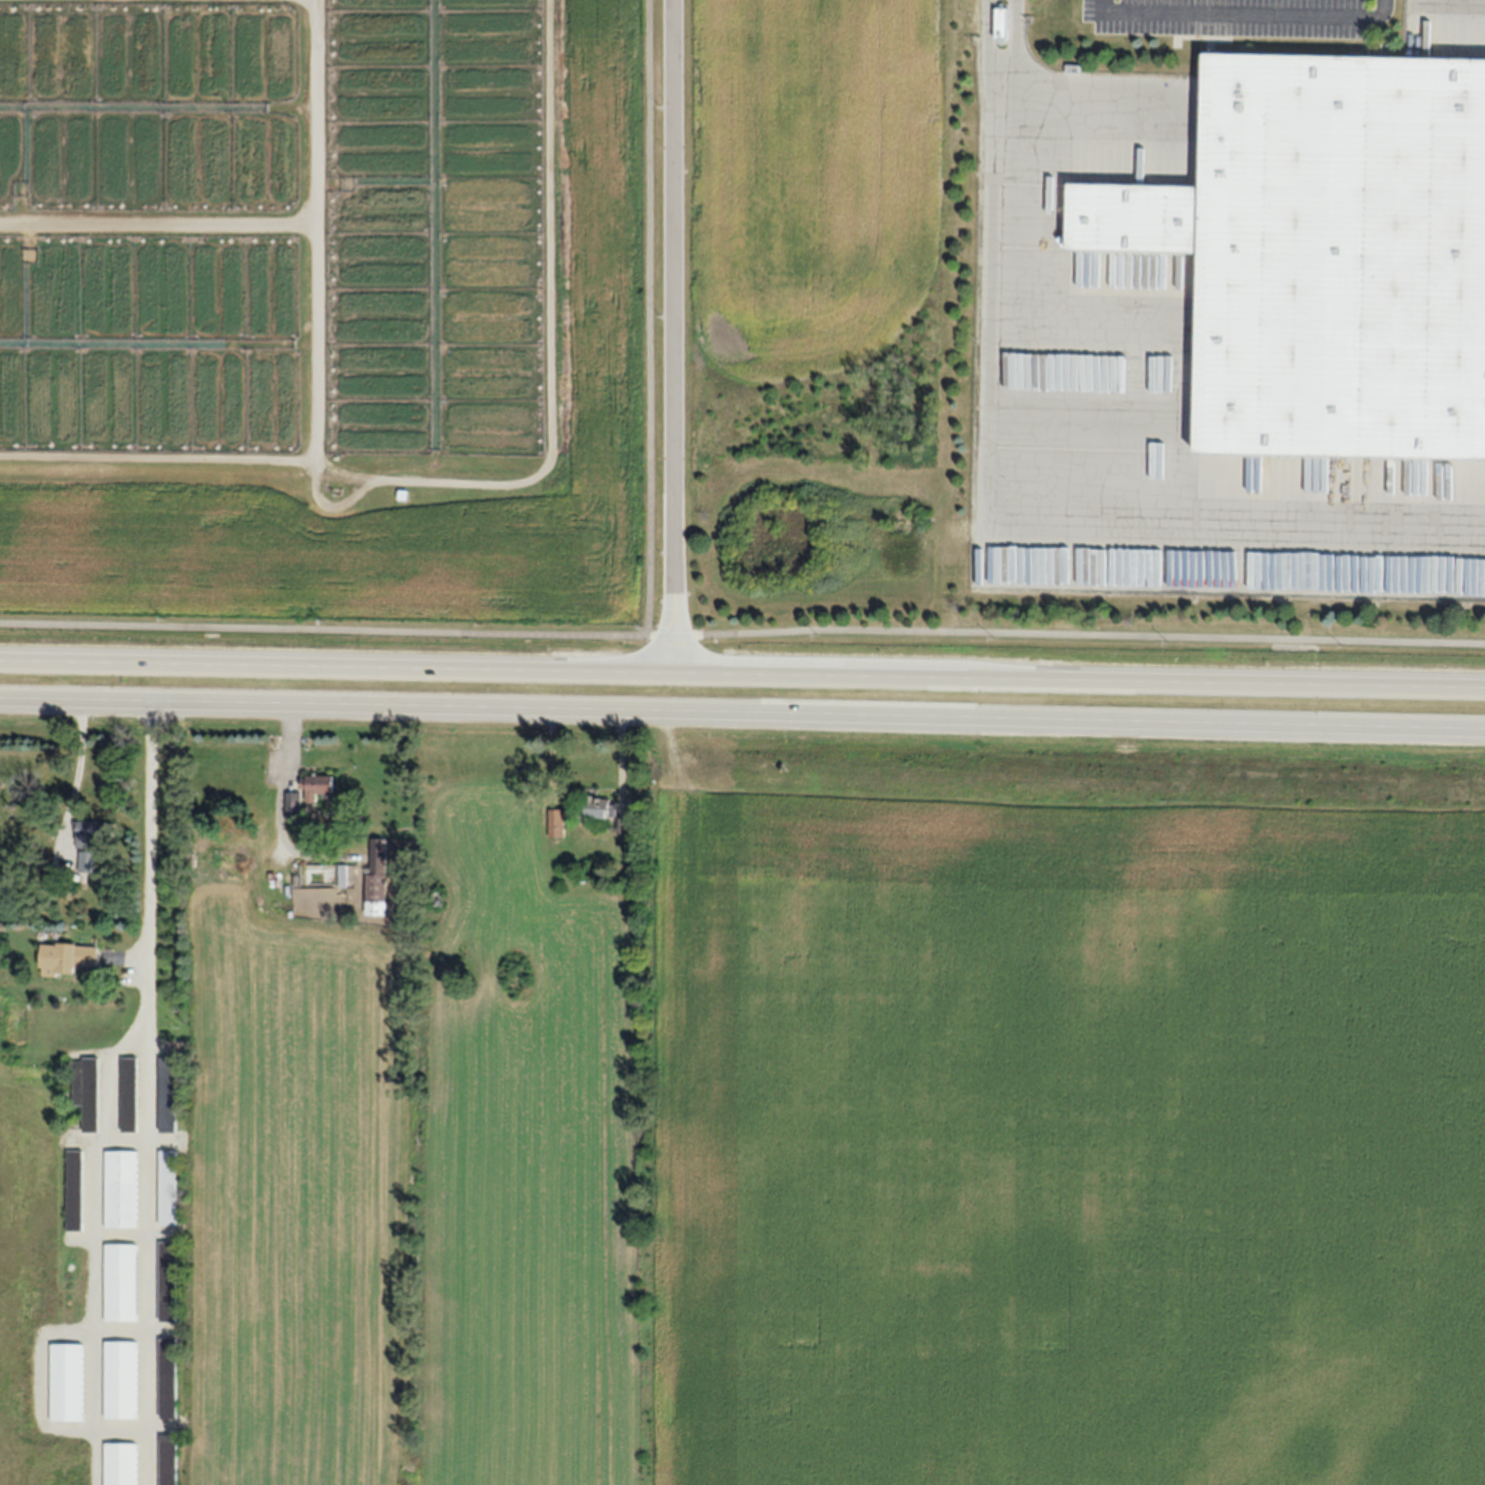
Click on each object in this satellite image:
road: (1242, 13)
building: (1001, 22)
road: (1018, 39)
road: (987, 40)
road: (670, 246)
building: (1327, 259)
crop: (329, 306)
road: (649, 317)
road: (1008, 529)
road: (670, 572)
road: (742, 632)
road: (666, 662)
road: (673, 662)
road: (742, 671)
road: (742, 711)
road: (79, 766)
building: (318, 787)
building: (293, 799)
building: (597, 807)
building: (556, 822)
building: (93, 834)
road: (151, 858)
building: (87, 863)
building: (377, 877)
building: (67, 958)
building: (87, 1092)
building: (129, 1094)
building: (168, 1096)
building: (168, 1188)
building: (121, 1190)
building: (74, 1191)
road: (96, 1239)
road: (149, 1251)
building: (167, 1282)
building: (121, 1283)
building: (167, 1377)
building: (121, 1380)
building: (67, 1382)
building: (168, 1459)
building: (121, 1464)

